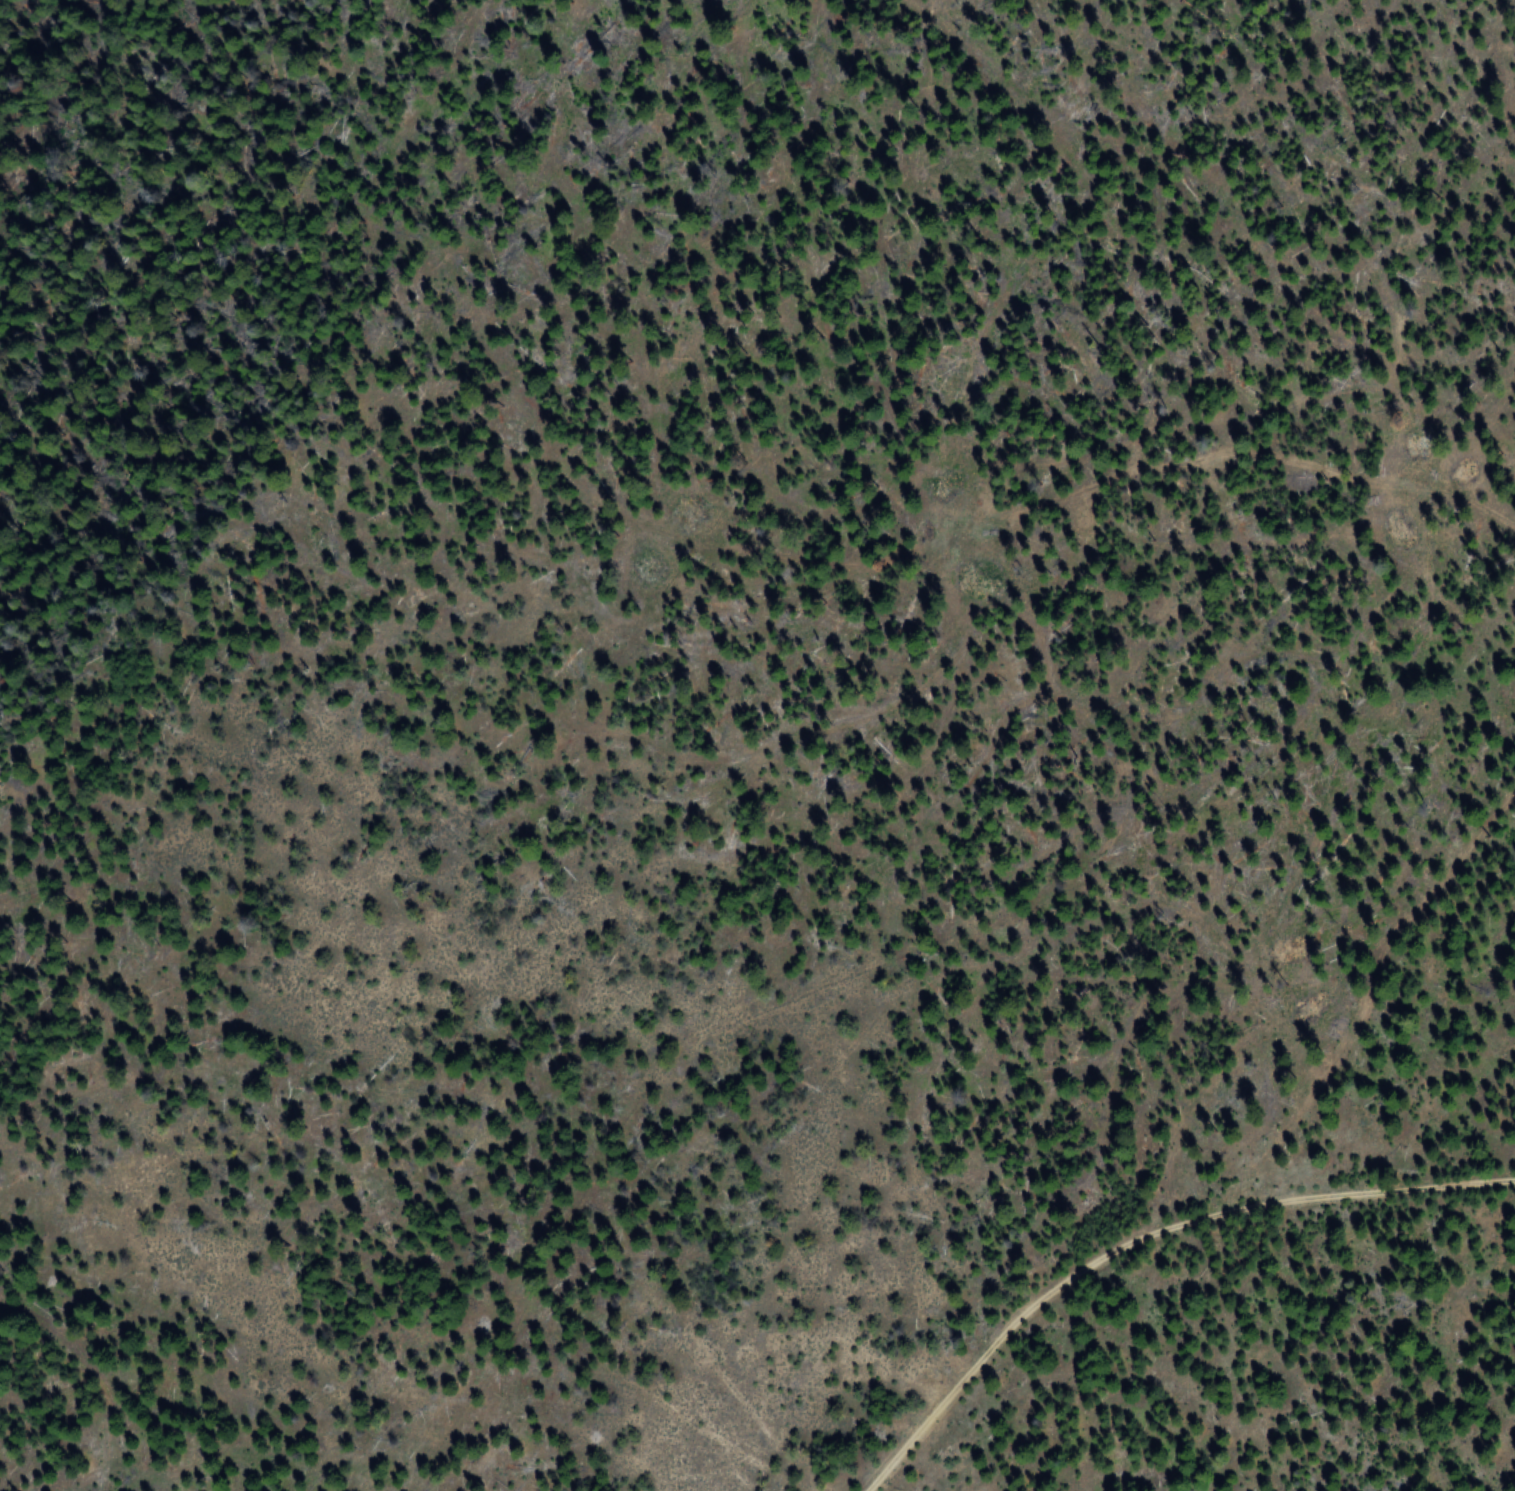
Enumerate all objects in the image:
road: (1135, 1245)

